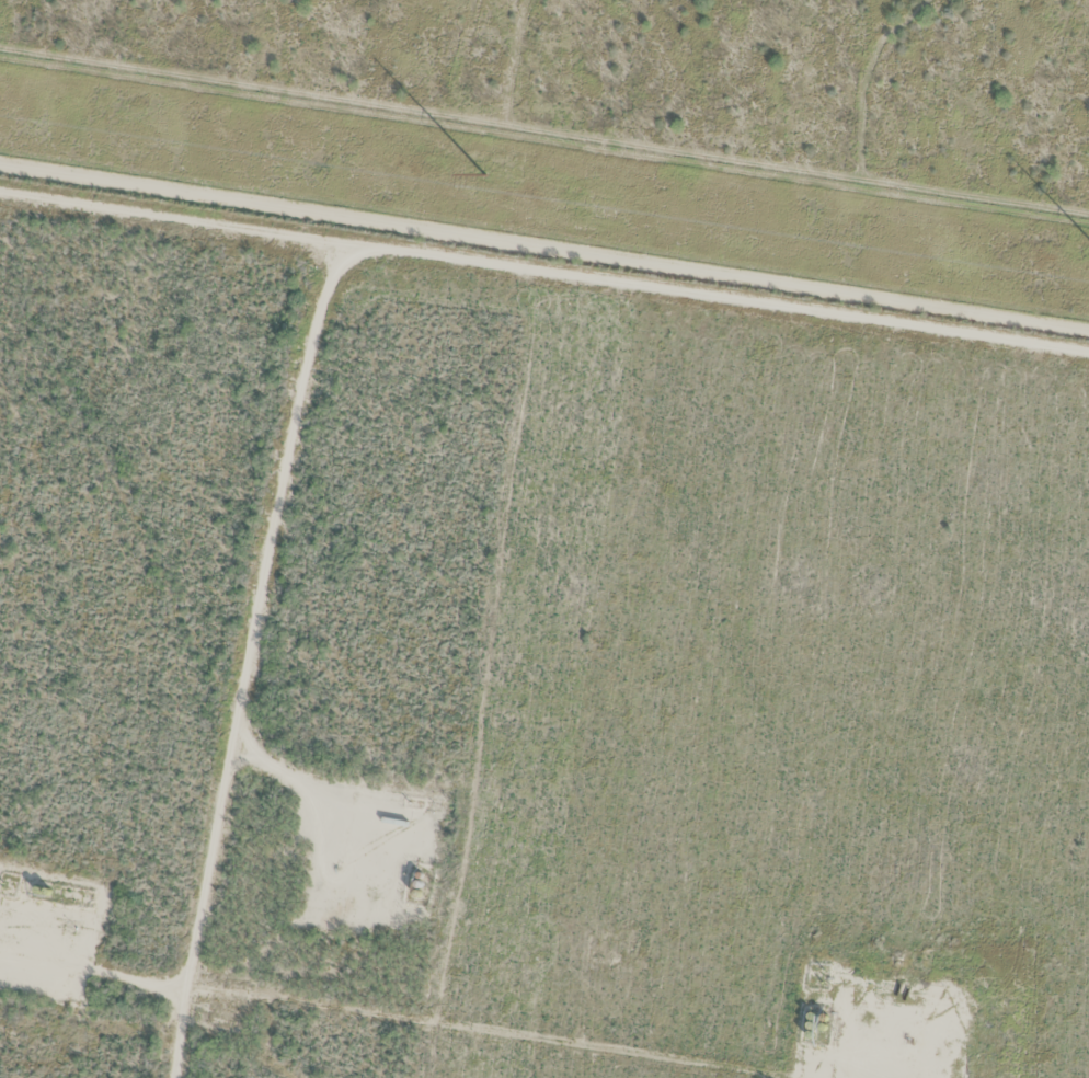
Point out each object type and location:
power tower: (483, 174)
road: (542, 276)
road: (175, 654)

